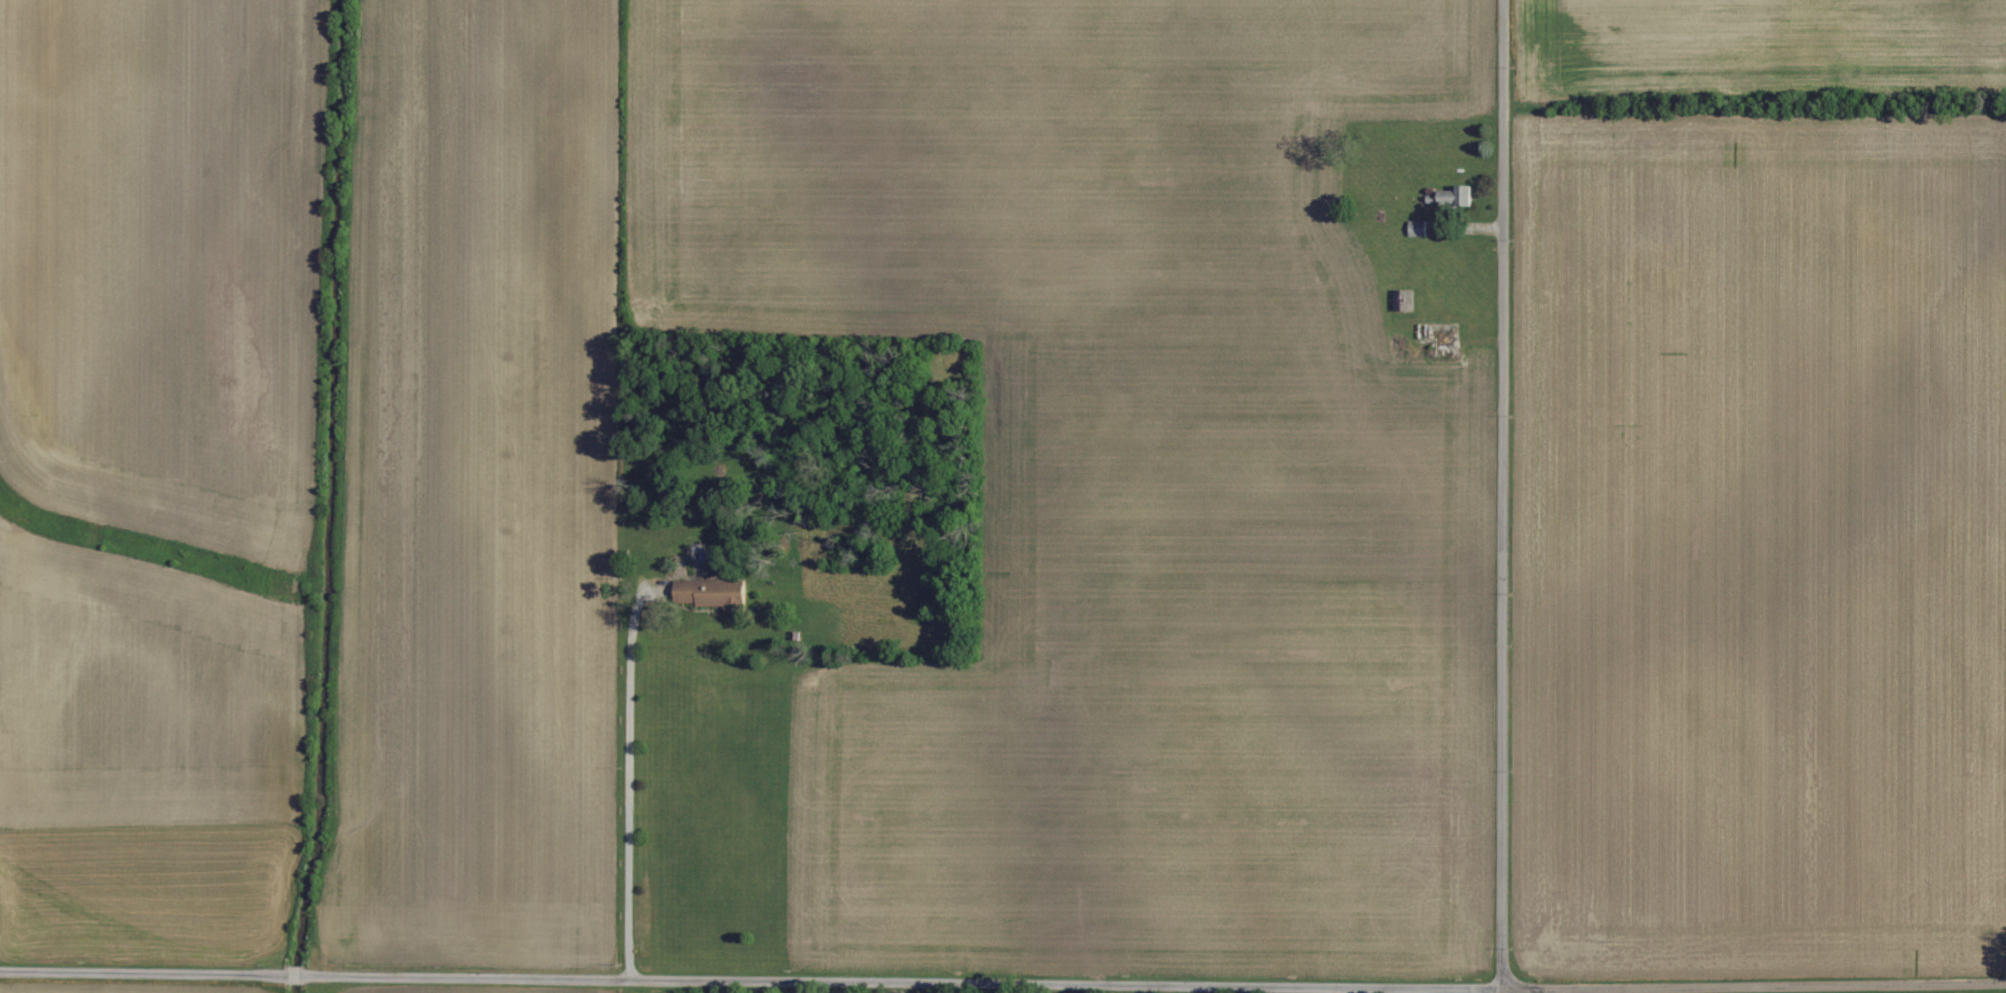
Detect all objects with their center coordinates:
building: (1465, 194)
road: (1503, 496)
building: (720, 592)
road: (630, 781)
road: (1003, 980)

